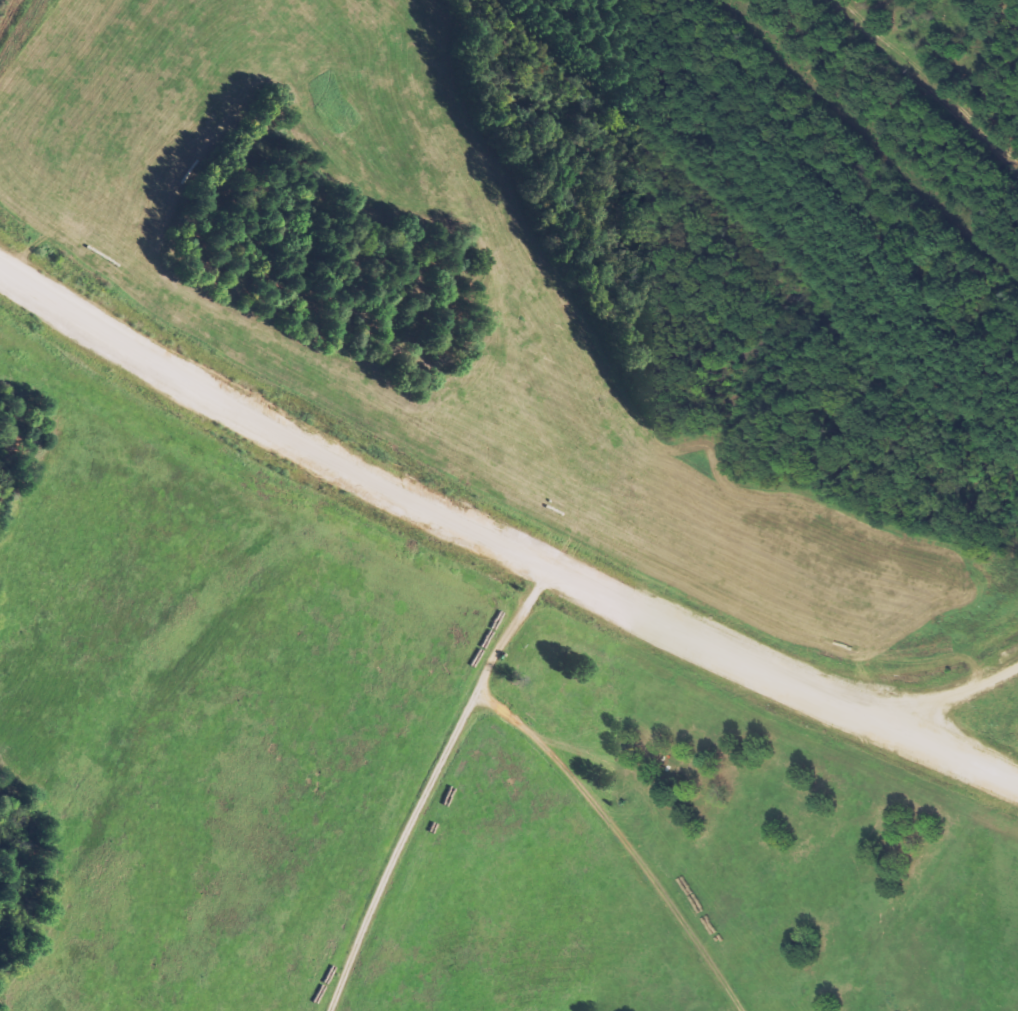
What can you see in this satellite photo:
road: (498, 542)
road: (431, 785)

